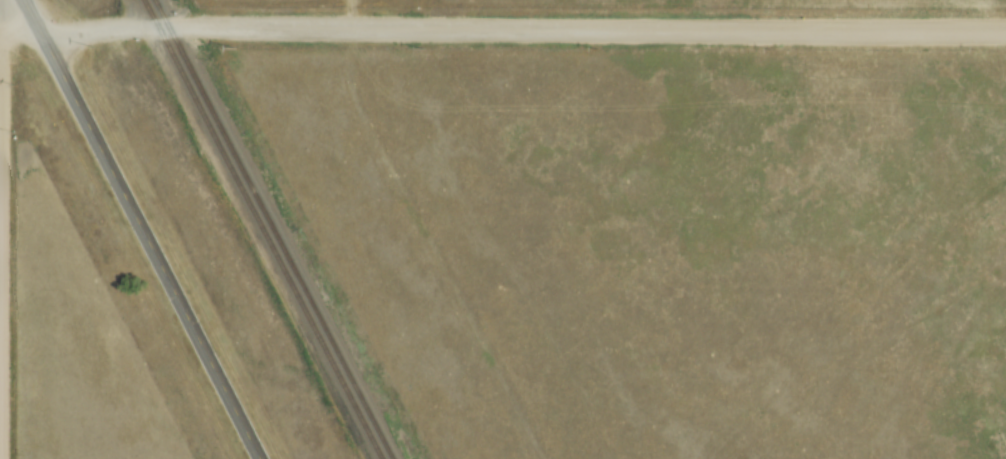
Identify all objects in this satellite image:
road: (524, 28)
road: (22, 30)
railway: (264, 228)
road: (1, 229)
road: (146, 229)
railway: (277, 229)

